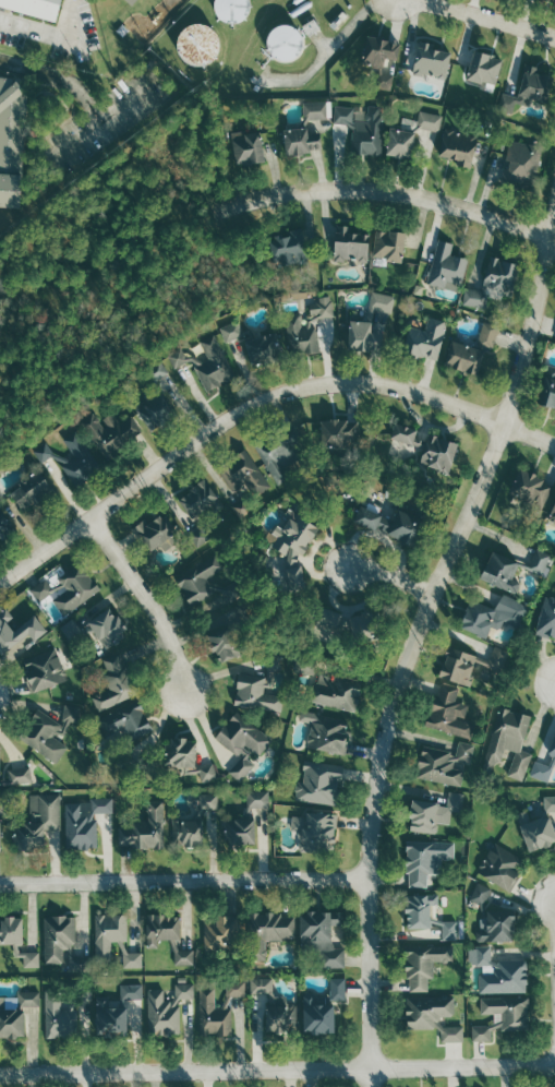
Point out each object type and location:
building: (131, 1)
building: (35, 7)
building: (233, 10)
road: (483, 19)
building: (310, 27)
road: (53, 34)
building: (201, 44)
building: (279, 44)
building: (430, 61)
building: (376, 64)
building: (481, 69)
building: (526, 89)
road: (83, 96)
building: (315, 110)
building: (424, 122)
building: (361, 128)
road: (75, 139)
building: (12, 141)
building: (301, 142)
building: (397, 144)
building: (249, 147)
building: (455, 147)
building: (519, 166)
road: (397, 192)
building: (351, 243)
building: (389, 244)
building: (292, 249)
building: (444, 267)
building: (492, 284)
building: (382, 302)
building: (306, 326)
building: (232, 330)
building: (488, 334)
building: (554, 335)
building: (364, 336)
building: (424, 342)
building: (264, 349)
building: (177, 358)
building: (460, 359)
building: (213, 365)
building: (155, 371)
building: (546, 389)
road: (254, 403)
building: (157, 413)
building: (110, 433)
building: (337, 440)
building: (418, 447)
building: (281, 453)
building: (79, 461)
building: (241, 474)
building: (529, 489)
building: (33, 490)
building: (195, 499)
building: (240, 511)
building: (552, 511)
building: (390, 524)
building: (5, 529)
building: (155, 533)
building: (198, 536)
building: (289, 547)
building: (542, 562)
building: (497, 572)
road: (390, 576)
building: (203, 584)
building: (73, 589)
road: (144, 604)
building: (486, 617)
building: (545, 618)
building: (345, 622)
road: (420, 628)
building: (32, 629)
building: (94, 630)
building: (5, 636)
building: (221, 646)
building: (269, 662)
building: (467, 666)
building: (40, 671)
building: (113, 683)
building: (334, 691)
building: (255, 693)
building: (447, 712)
building: (69, 714)
building: (123, 722)
building: (327, 733)
building: (40, 736)
building: (240, 744)
building: (507, 744)
building: (179, 753)
building: (544, 762)
building: (442, 765)
building: (205, 773)
building: (14, 778)
building: (318, 783)
building: (255, 799)
building: (206, 801)
building: (550, 803)
building: (430, 812)
building: (35, 823)
building: (82, 823)
building: (143, 831)
building: (237, 832)
building: (313, 833)
building: (535, 833)
building: (0, 834)
building: (186, 834)
building: (422, 860)
building: (498, 867)
road: (183, 882)
building: (479, 895)
building: (422, 920)
building: (494, 927)
building: (159, 929)
building: (10, 931)
building: (266, 931)
building: (108, 934)
building: (219, 935)
building: (319, 936)
building: (61, 944)
building: (182, 957)
building: (28, 958)
building: (133, 958)
building: (421, 965)
building: (498, 972)
building: (233, 988)
building: (272, 1007)
building: (164, 1010)
building: (318, 1010)
building: (61, 1011)
building: (114, 1012)
building: (14, 1013)
building: (212, 1015)
building: (430, 1016)
building: (499, 1016)
road: (277, 1072)
road: (371, 1078)

